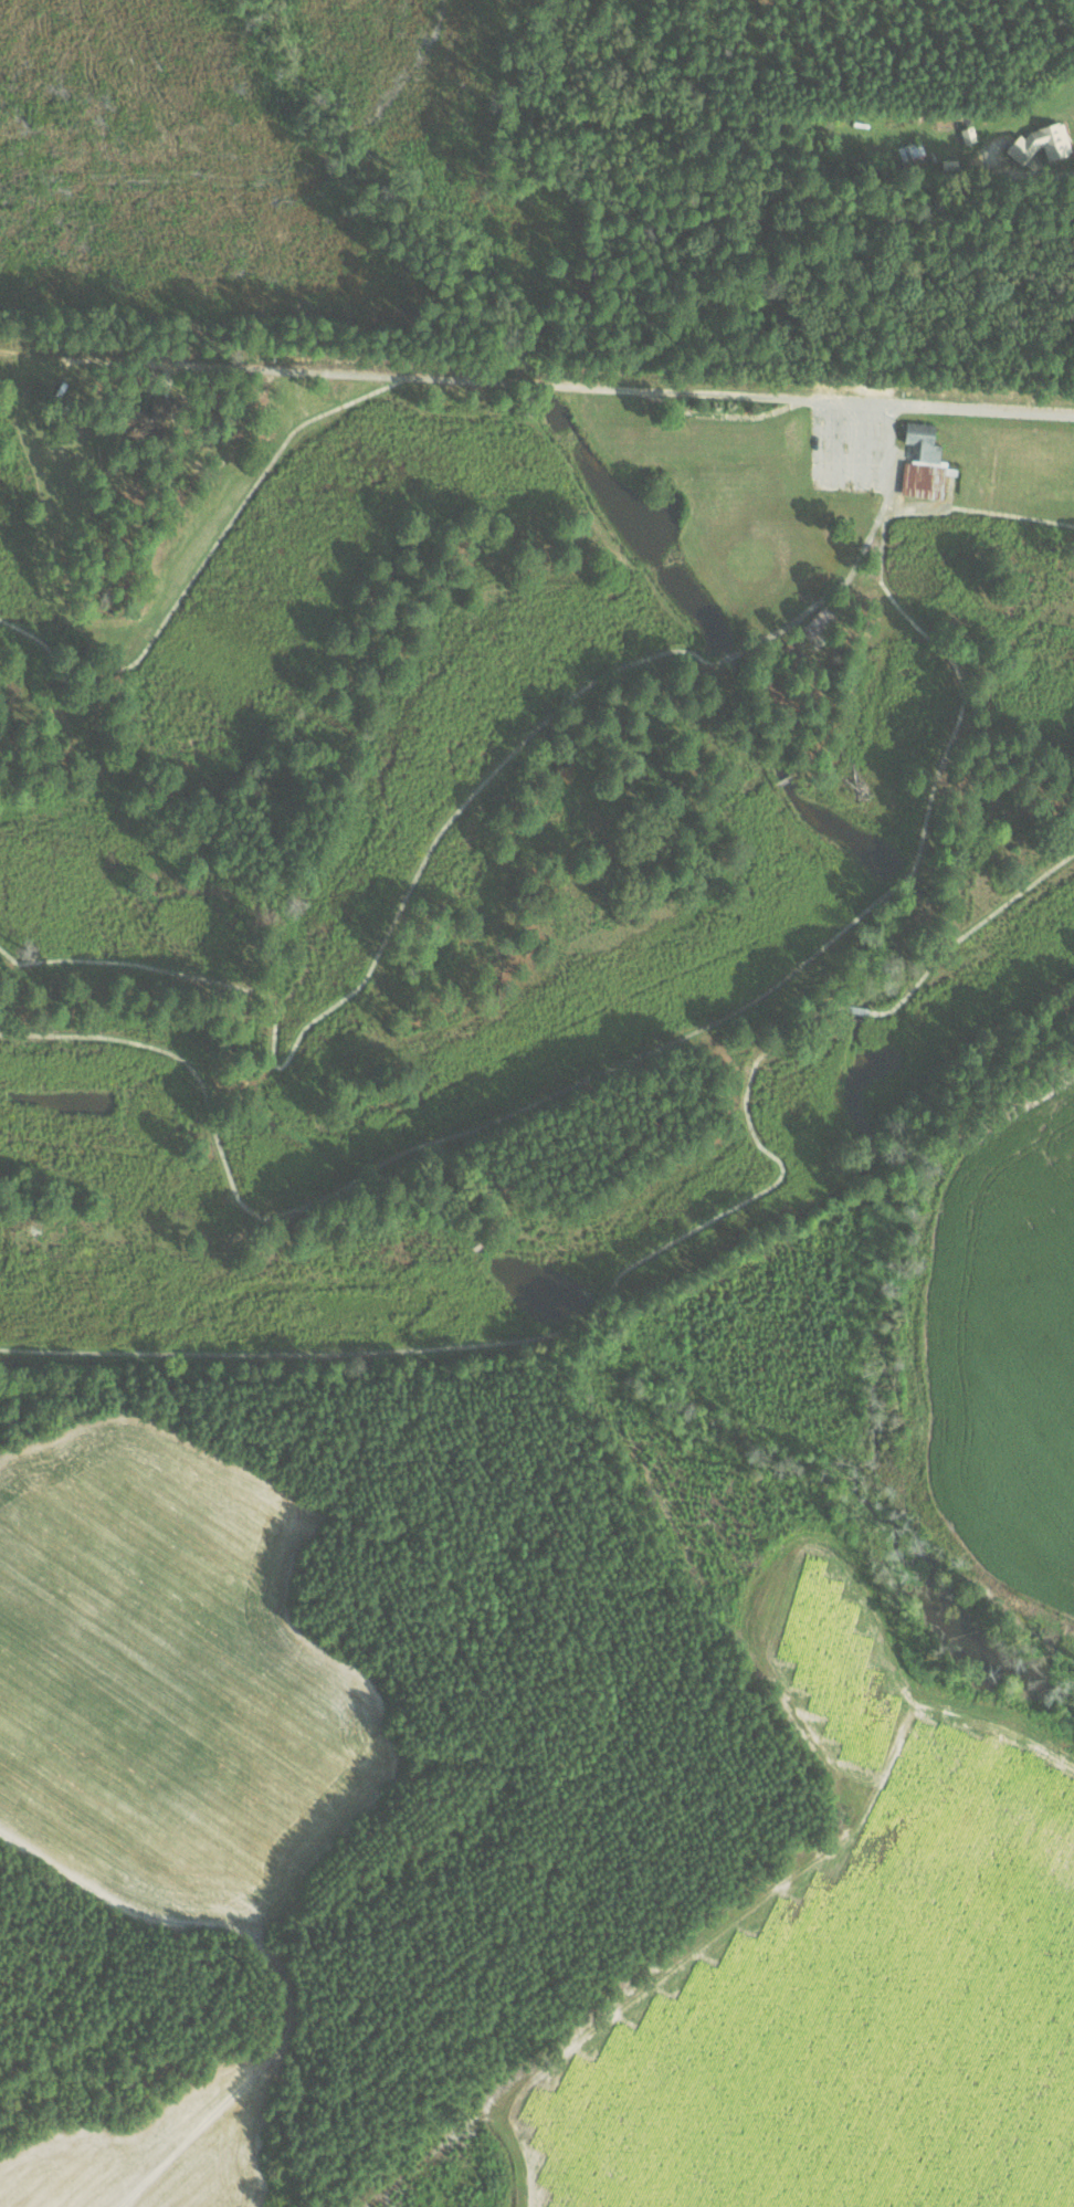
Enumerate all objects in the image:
building: (968, 134)
building: (1042, 143)
building: (912, 154)
road: (1043, 172)
road: (624, 388)
building: (147, 416)
building: (923, 463)
park: (494, 829)

